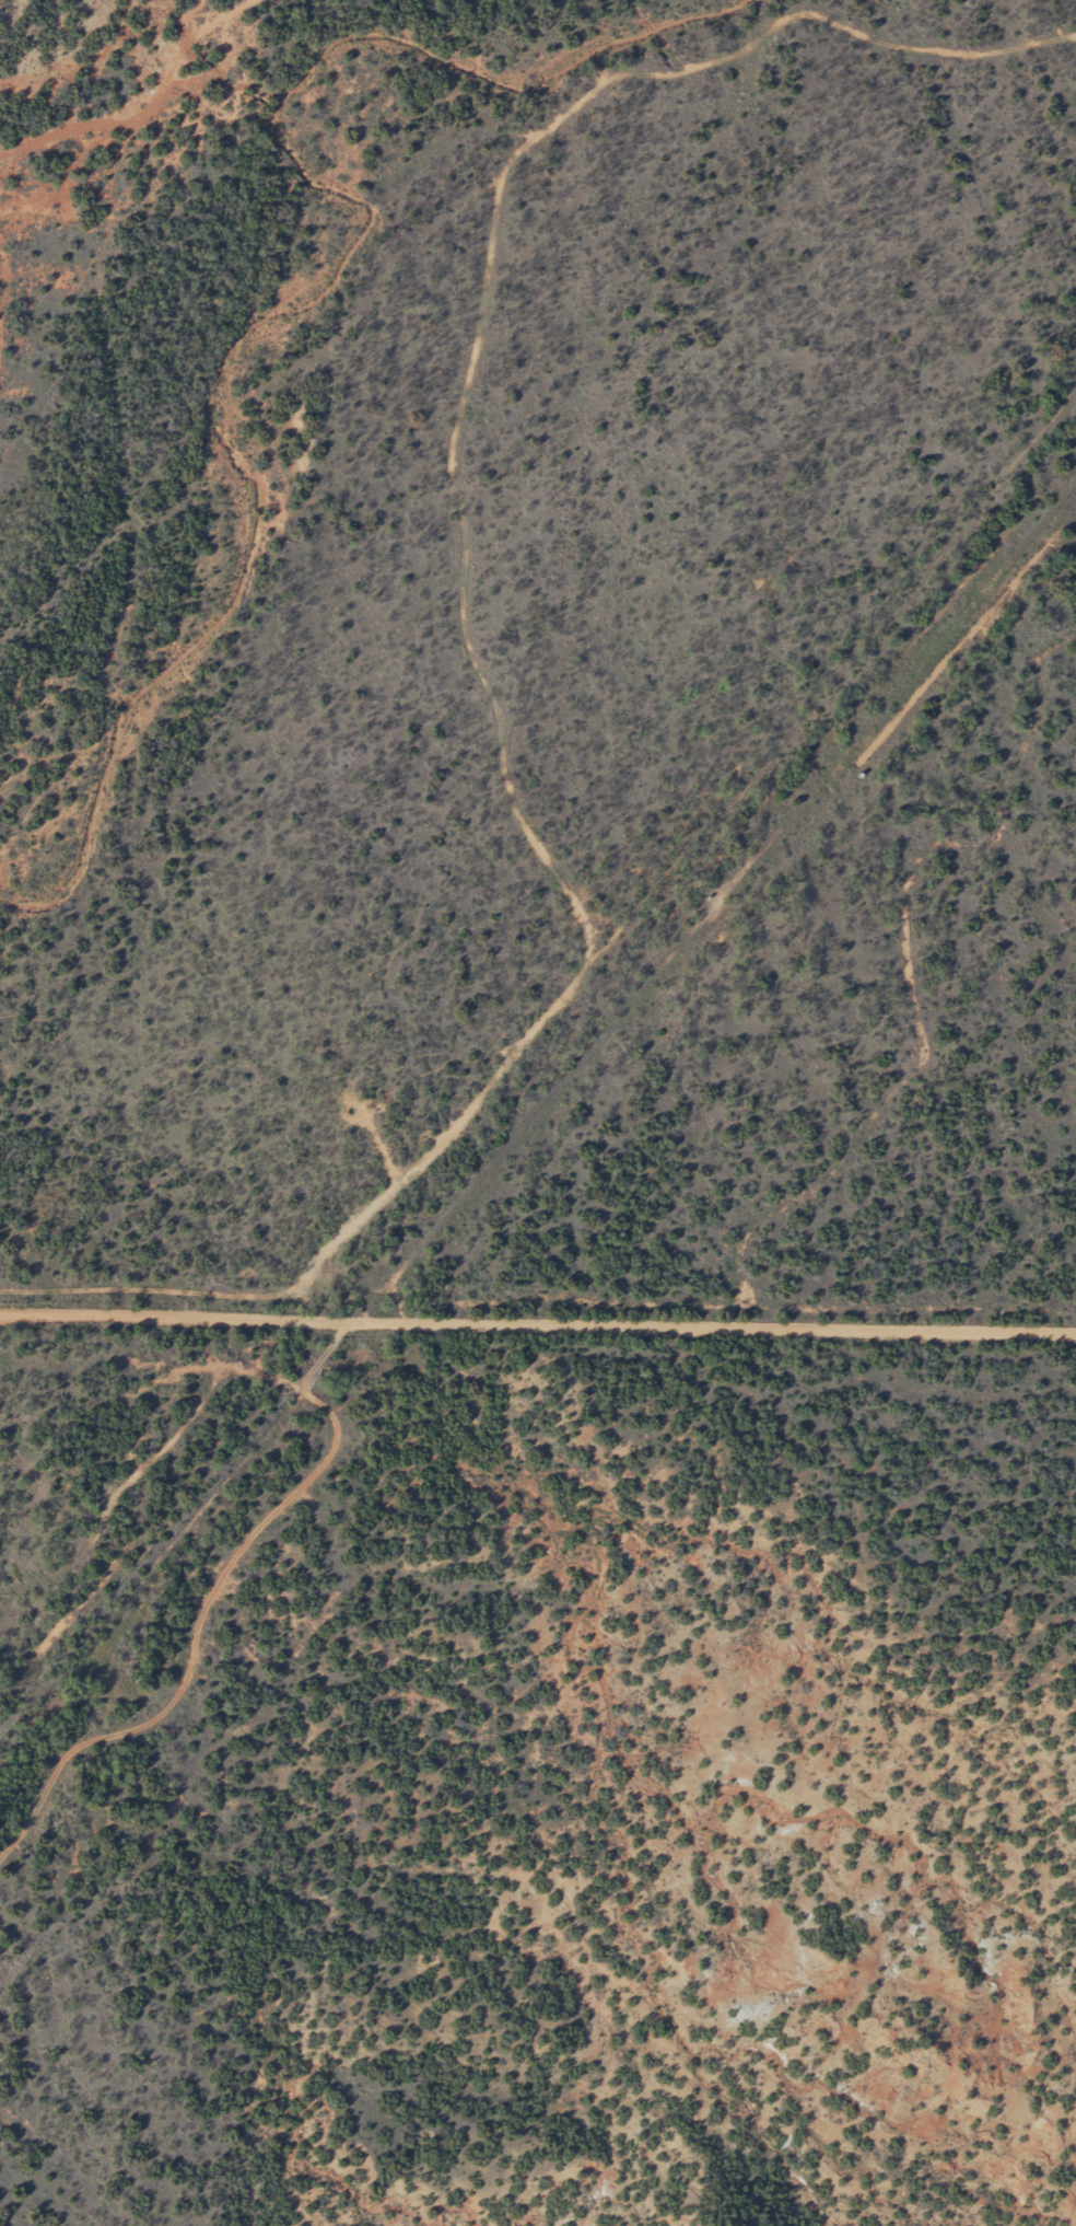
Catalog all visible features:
road: (644, 760)
railway: (538, 1128)
road: (537, 1328)

